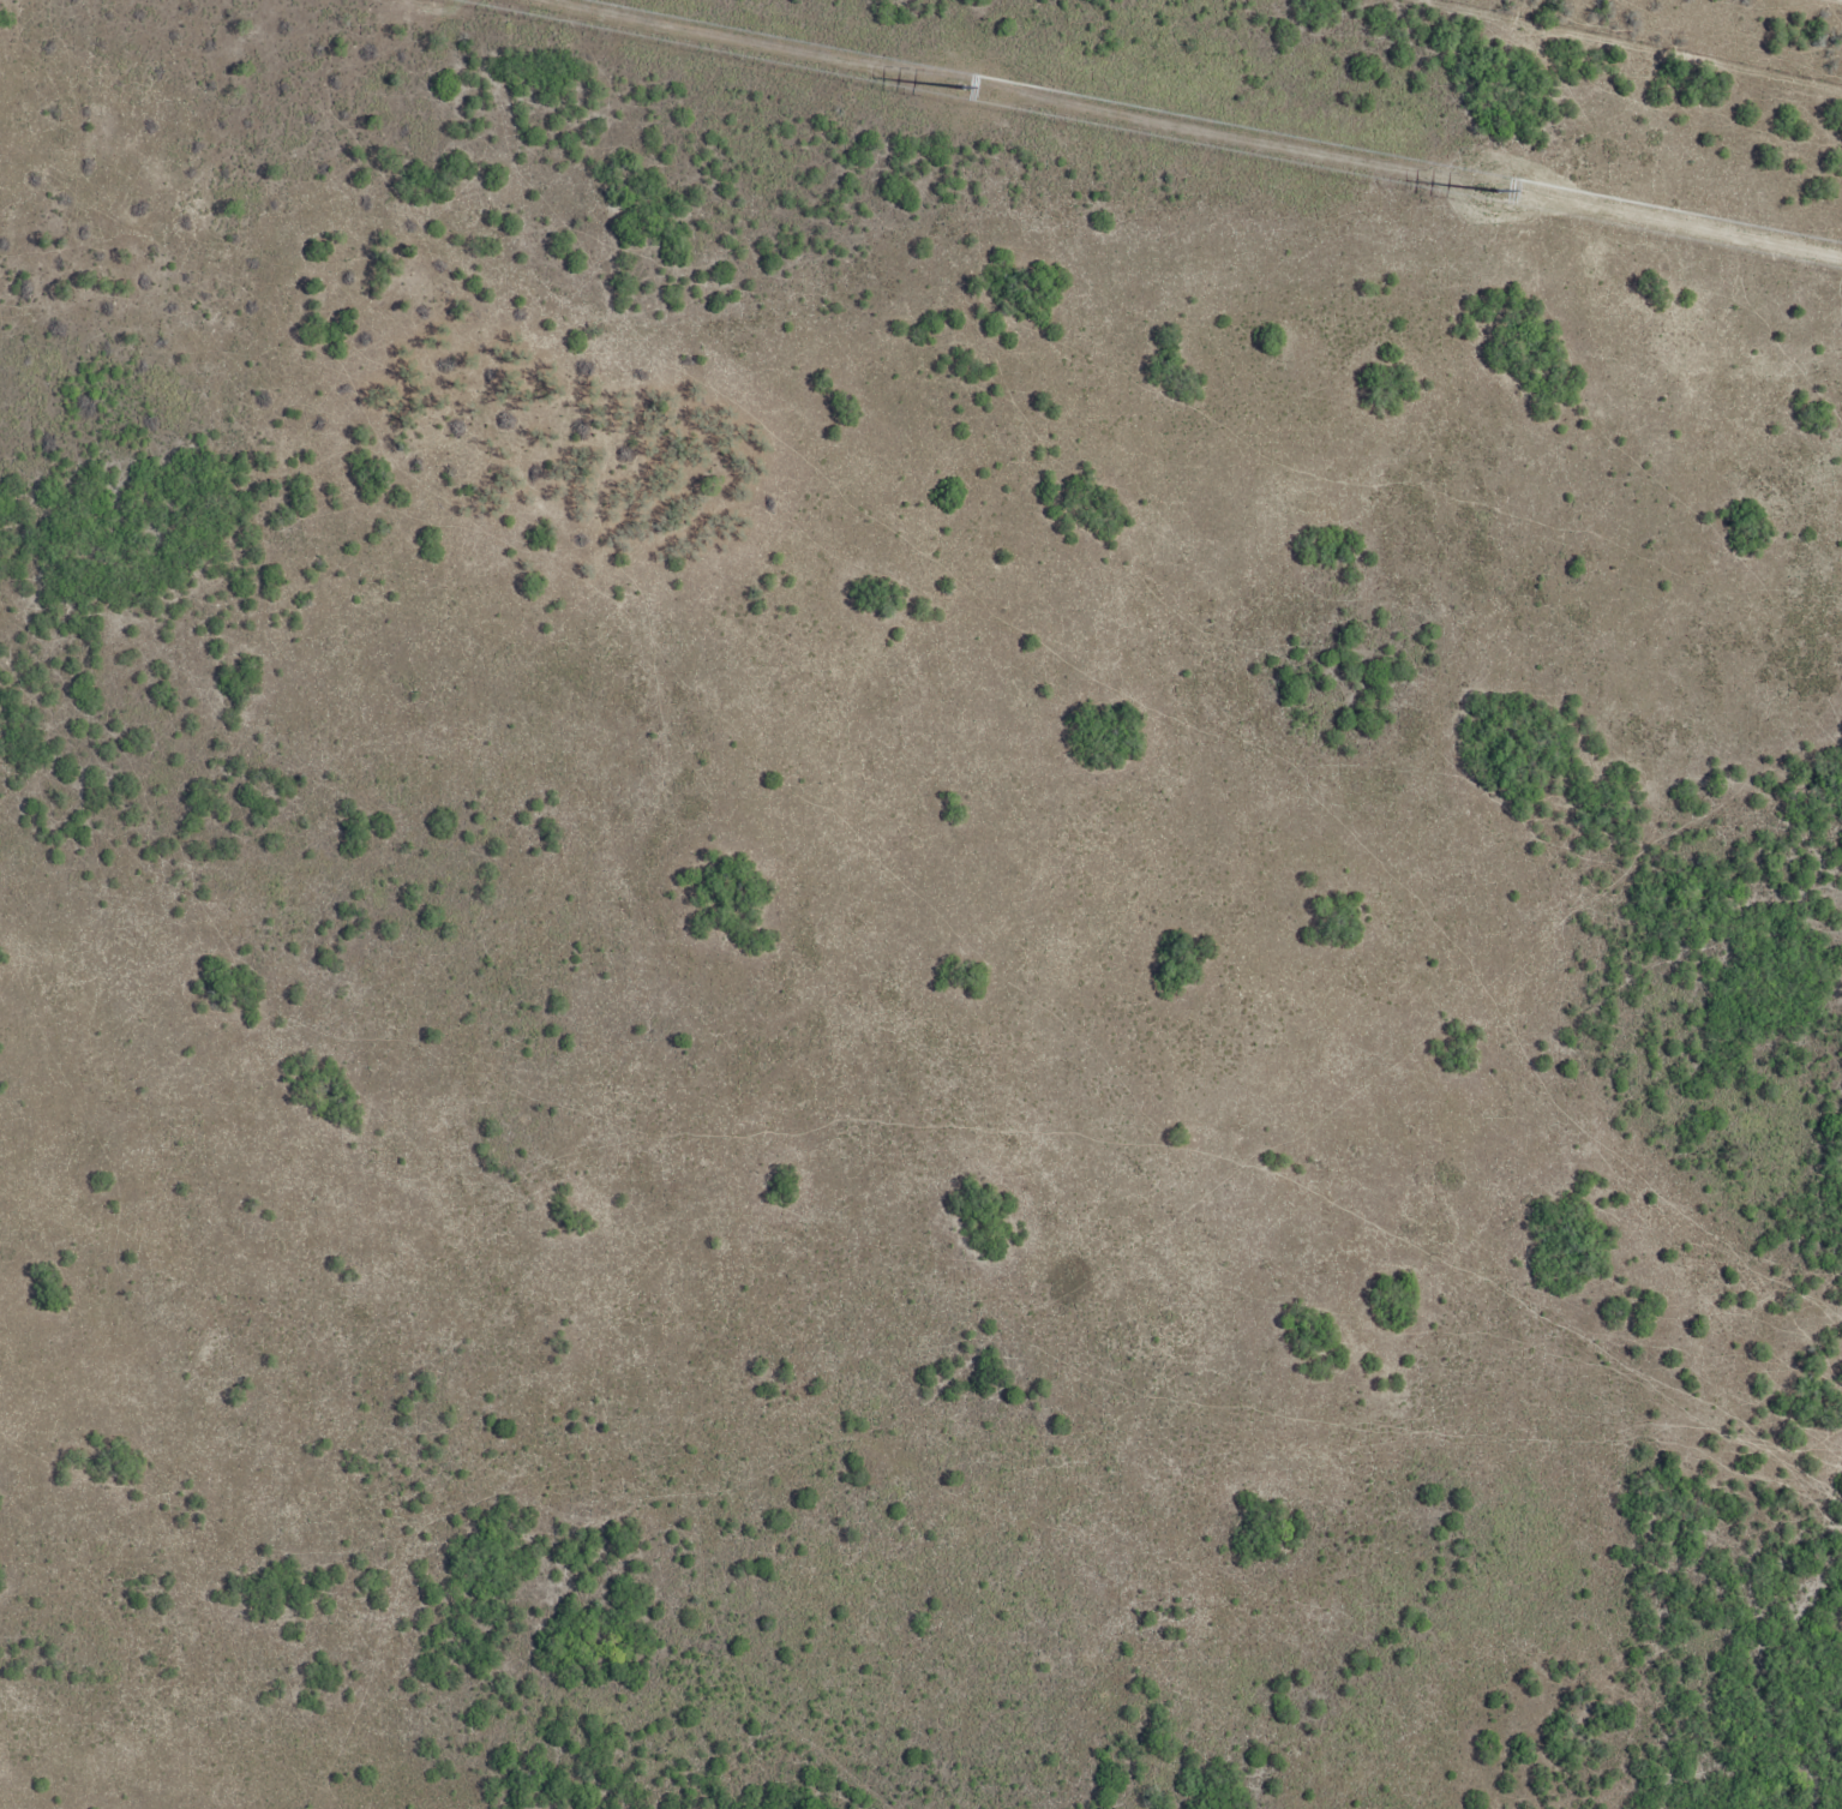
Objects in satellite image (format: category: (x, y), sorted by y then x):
power tower: (968, 92)
power tower: (1489, 198)
road: (883, 781)

